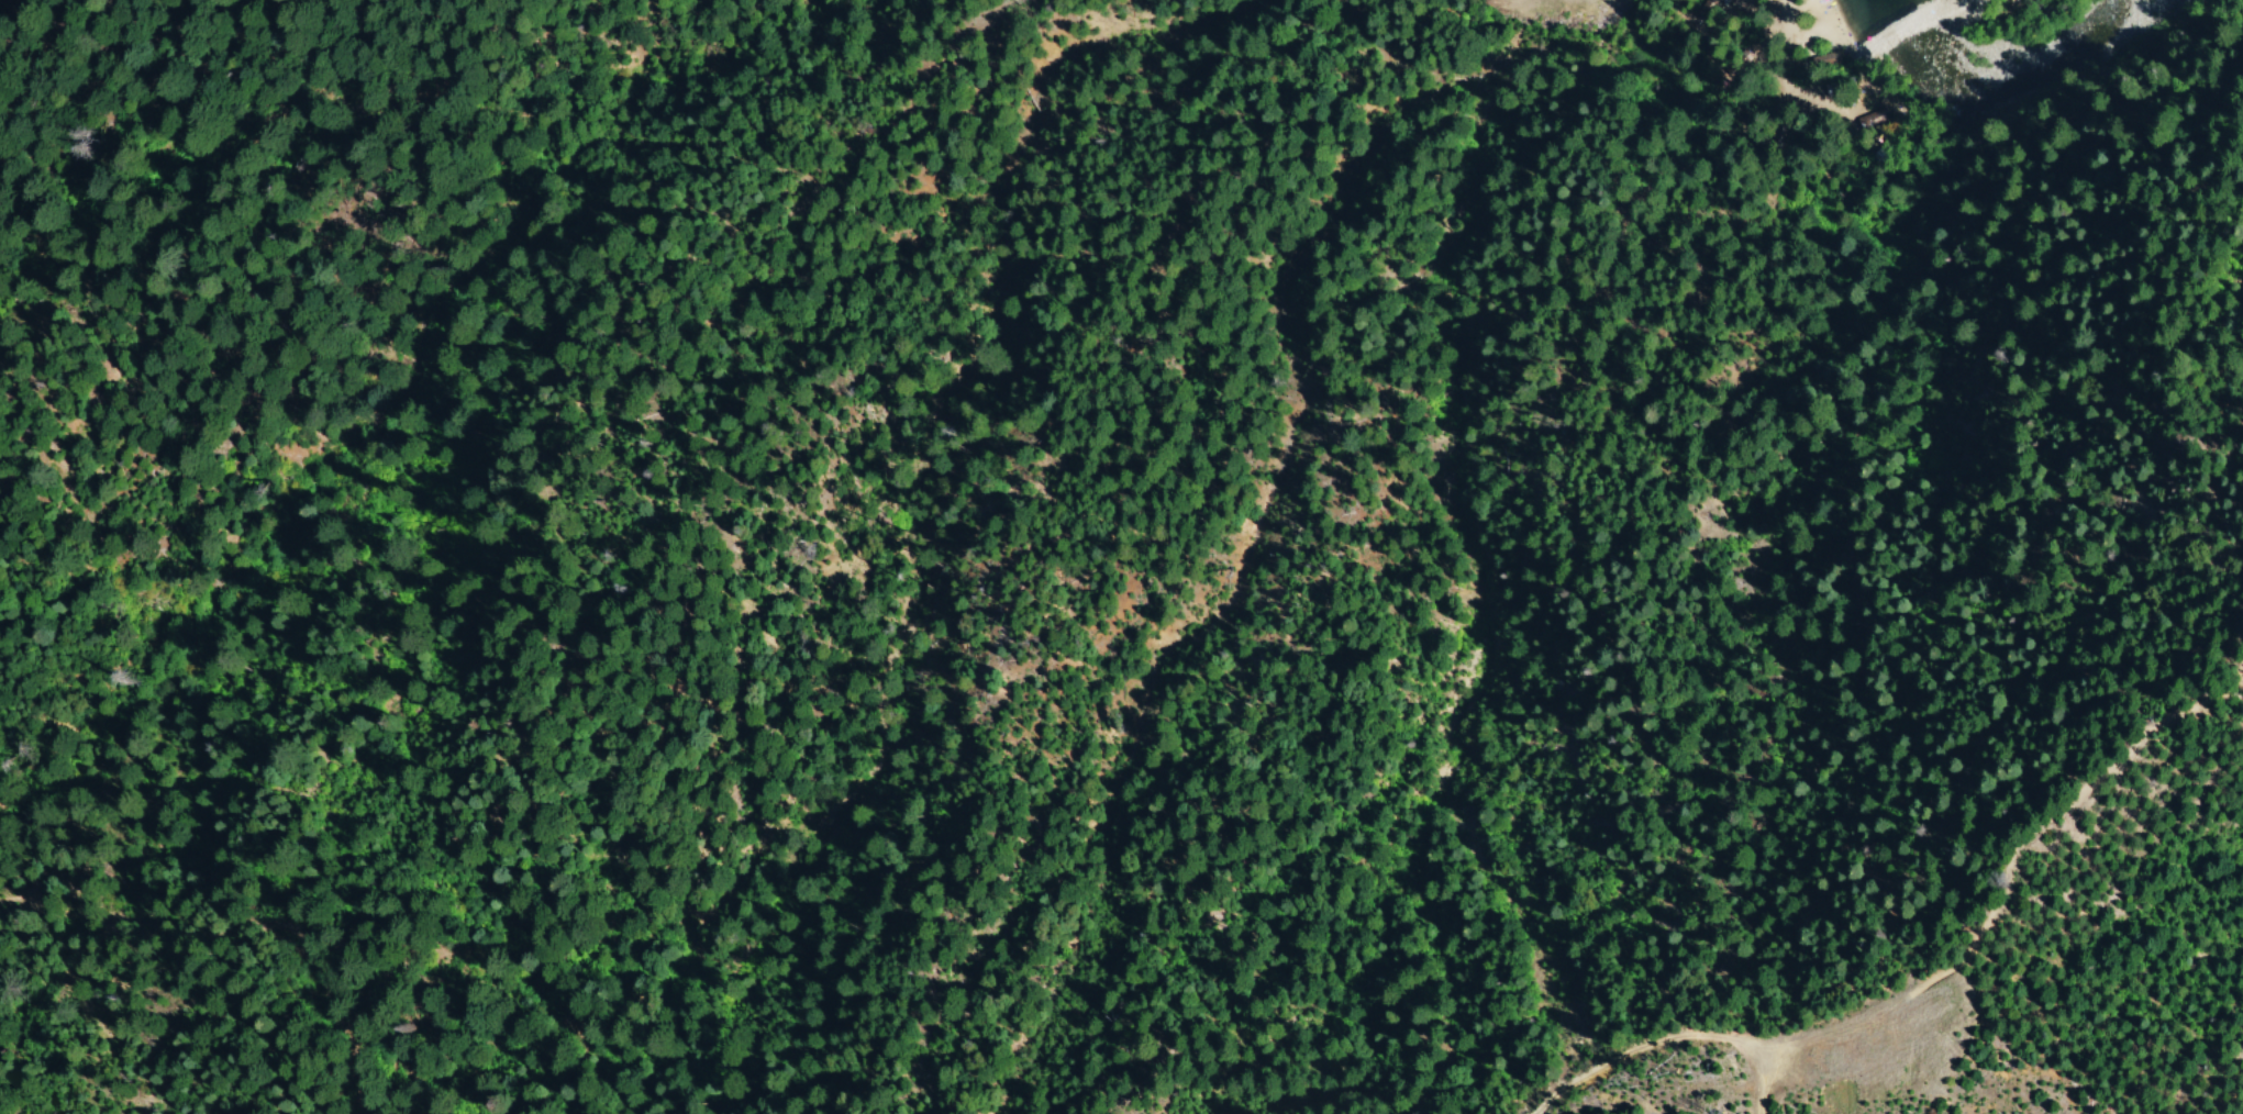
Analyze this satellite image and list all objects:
road: (1807, 58)
river: (2024, 78)

